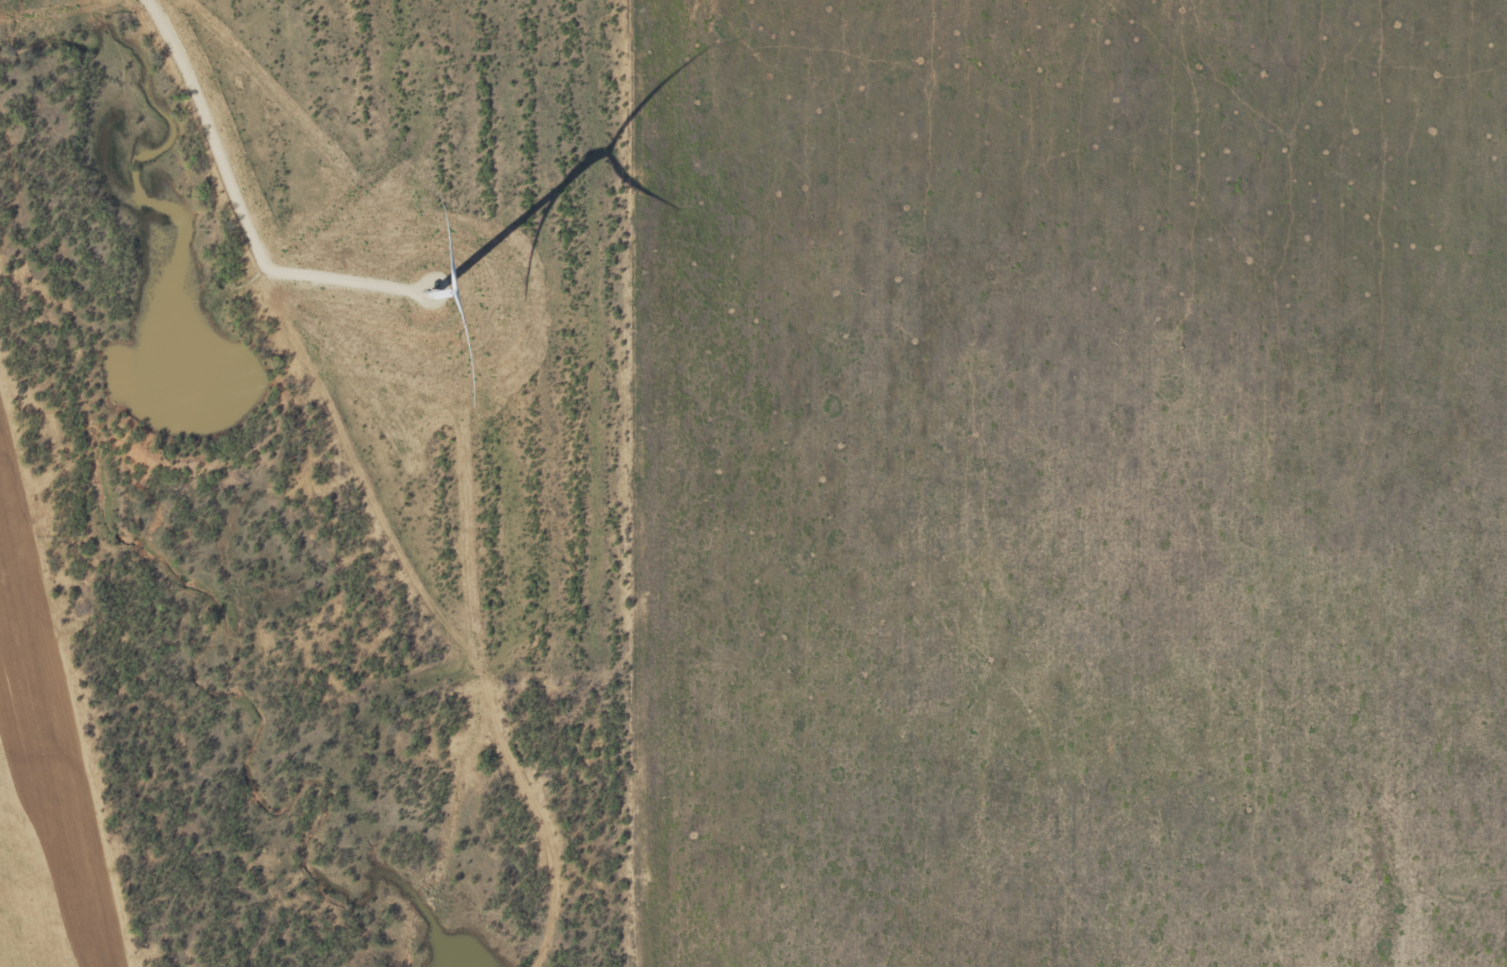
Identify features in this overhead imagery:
wind turbine: (430, 290)

